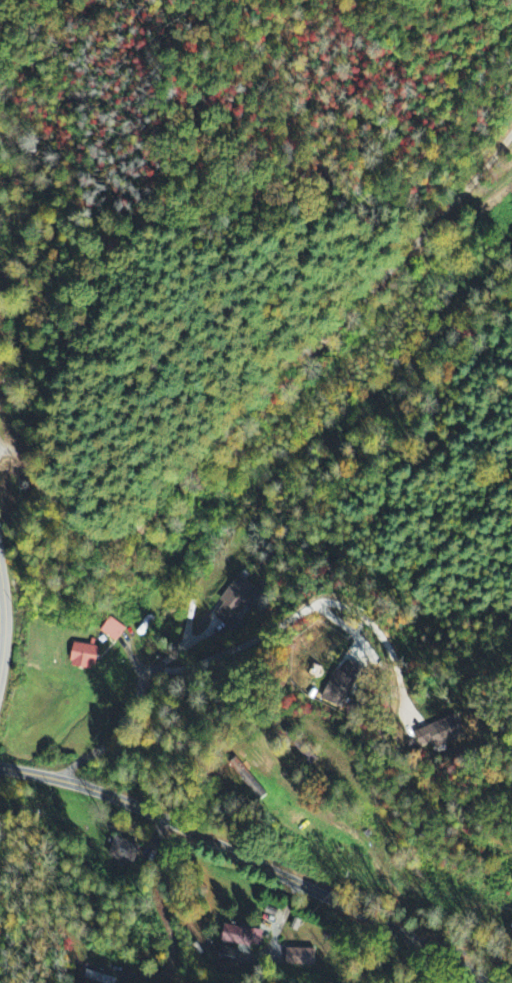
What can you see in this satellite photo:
road: (266, 396)
building: (235, 601)
road: (4, 619)
building: (113, 630)
road: (242, 644)
building: (85, 656)
building: (342, 684)
road: (283, 716)
building: (441, 733)
building: (124, 852)
road: (250, 859)
road: (480, 954)

